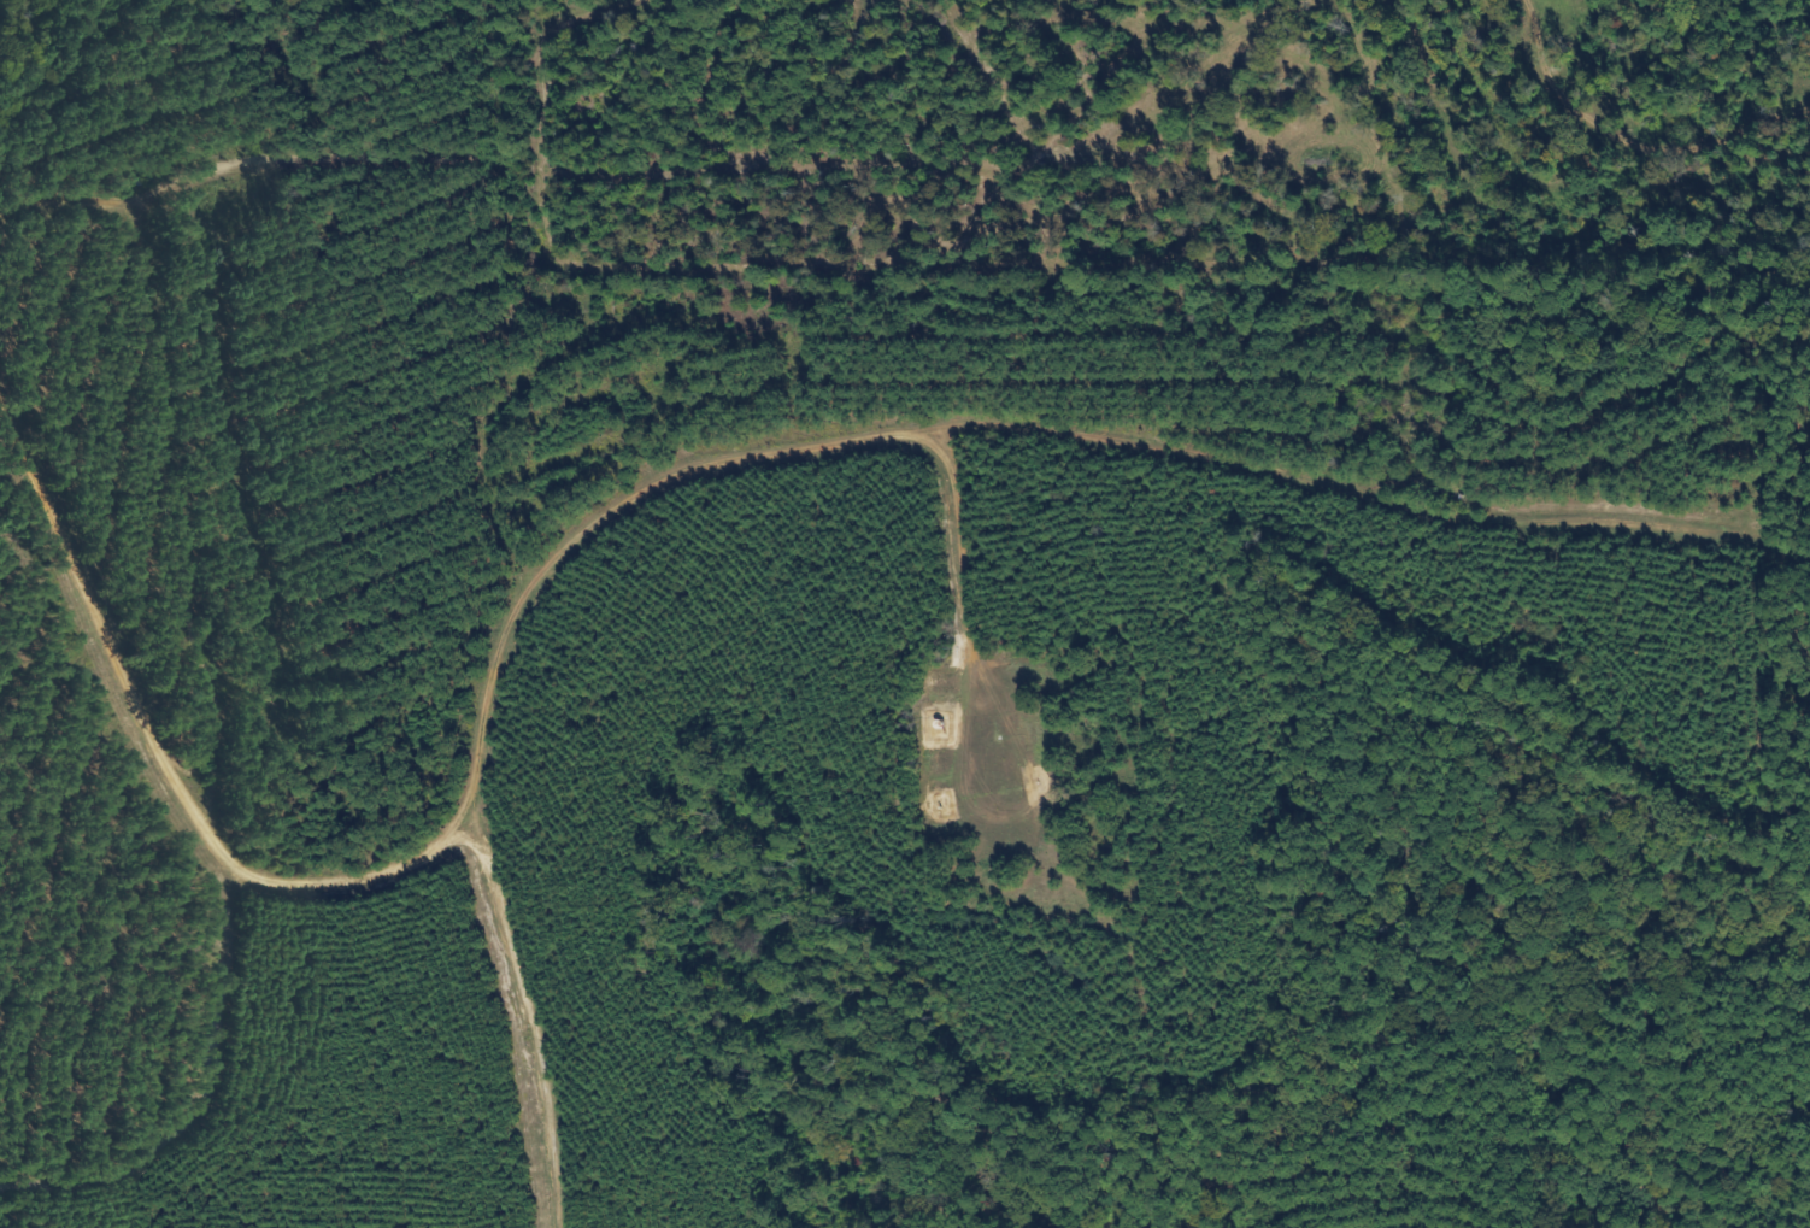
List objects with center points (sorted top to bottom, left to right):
road: (550, 495)

